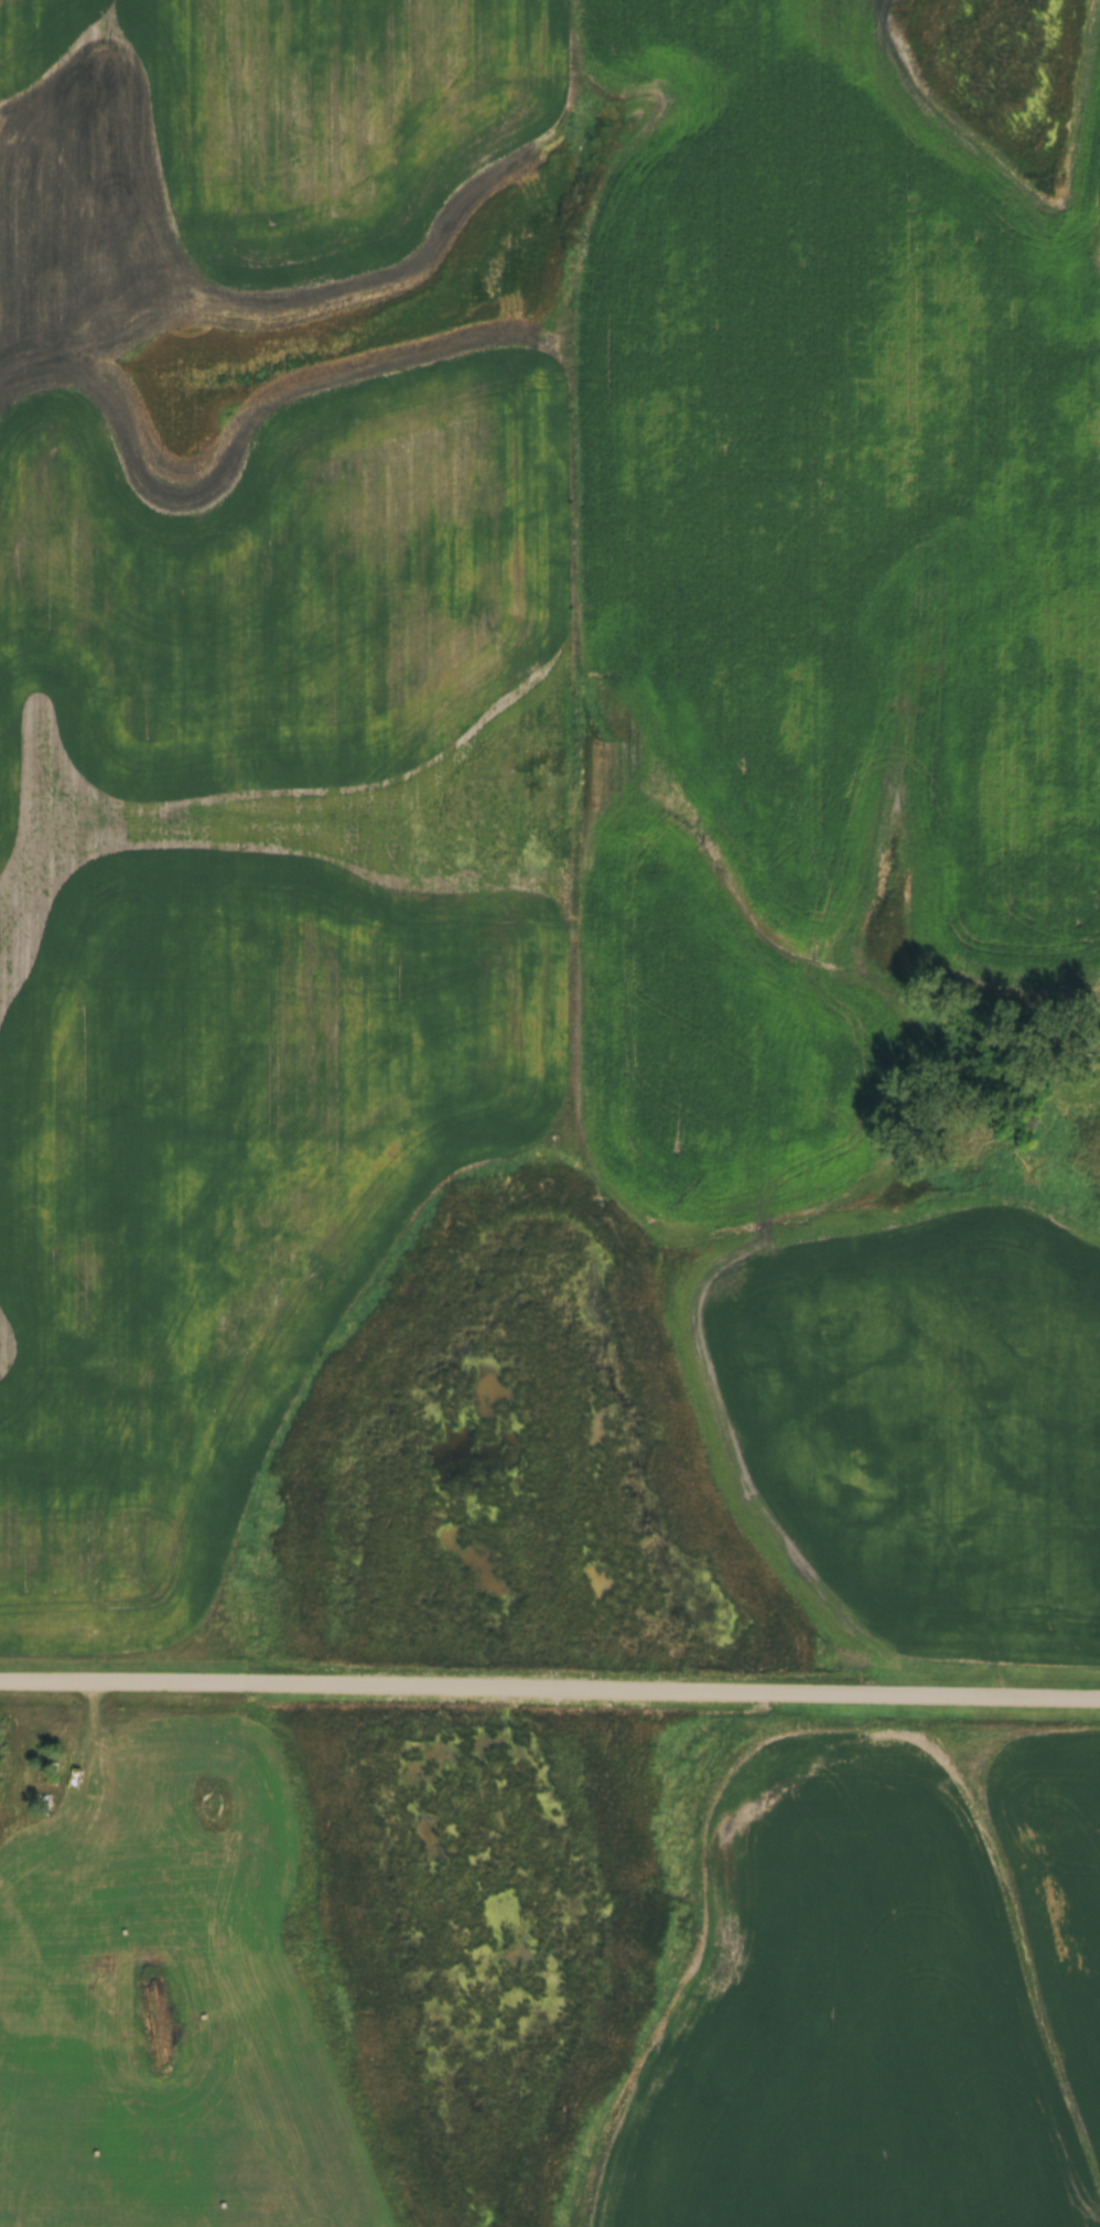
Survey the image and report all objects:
road: (550, 1687)

